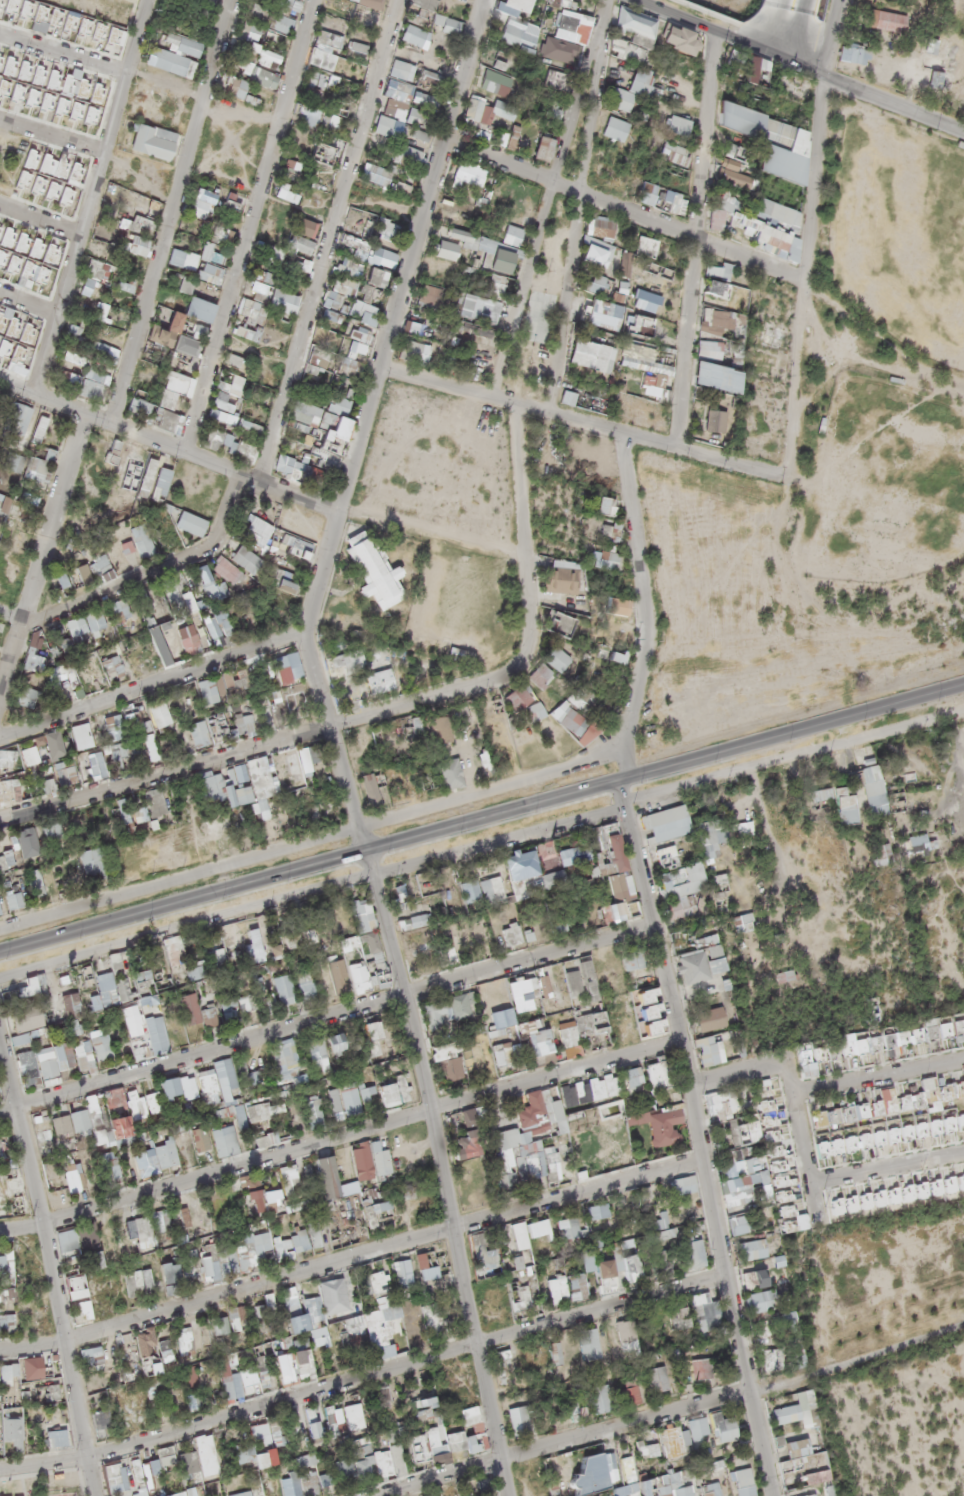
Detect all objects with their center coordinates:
road: (481, 816)

